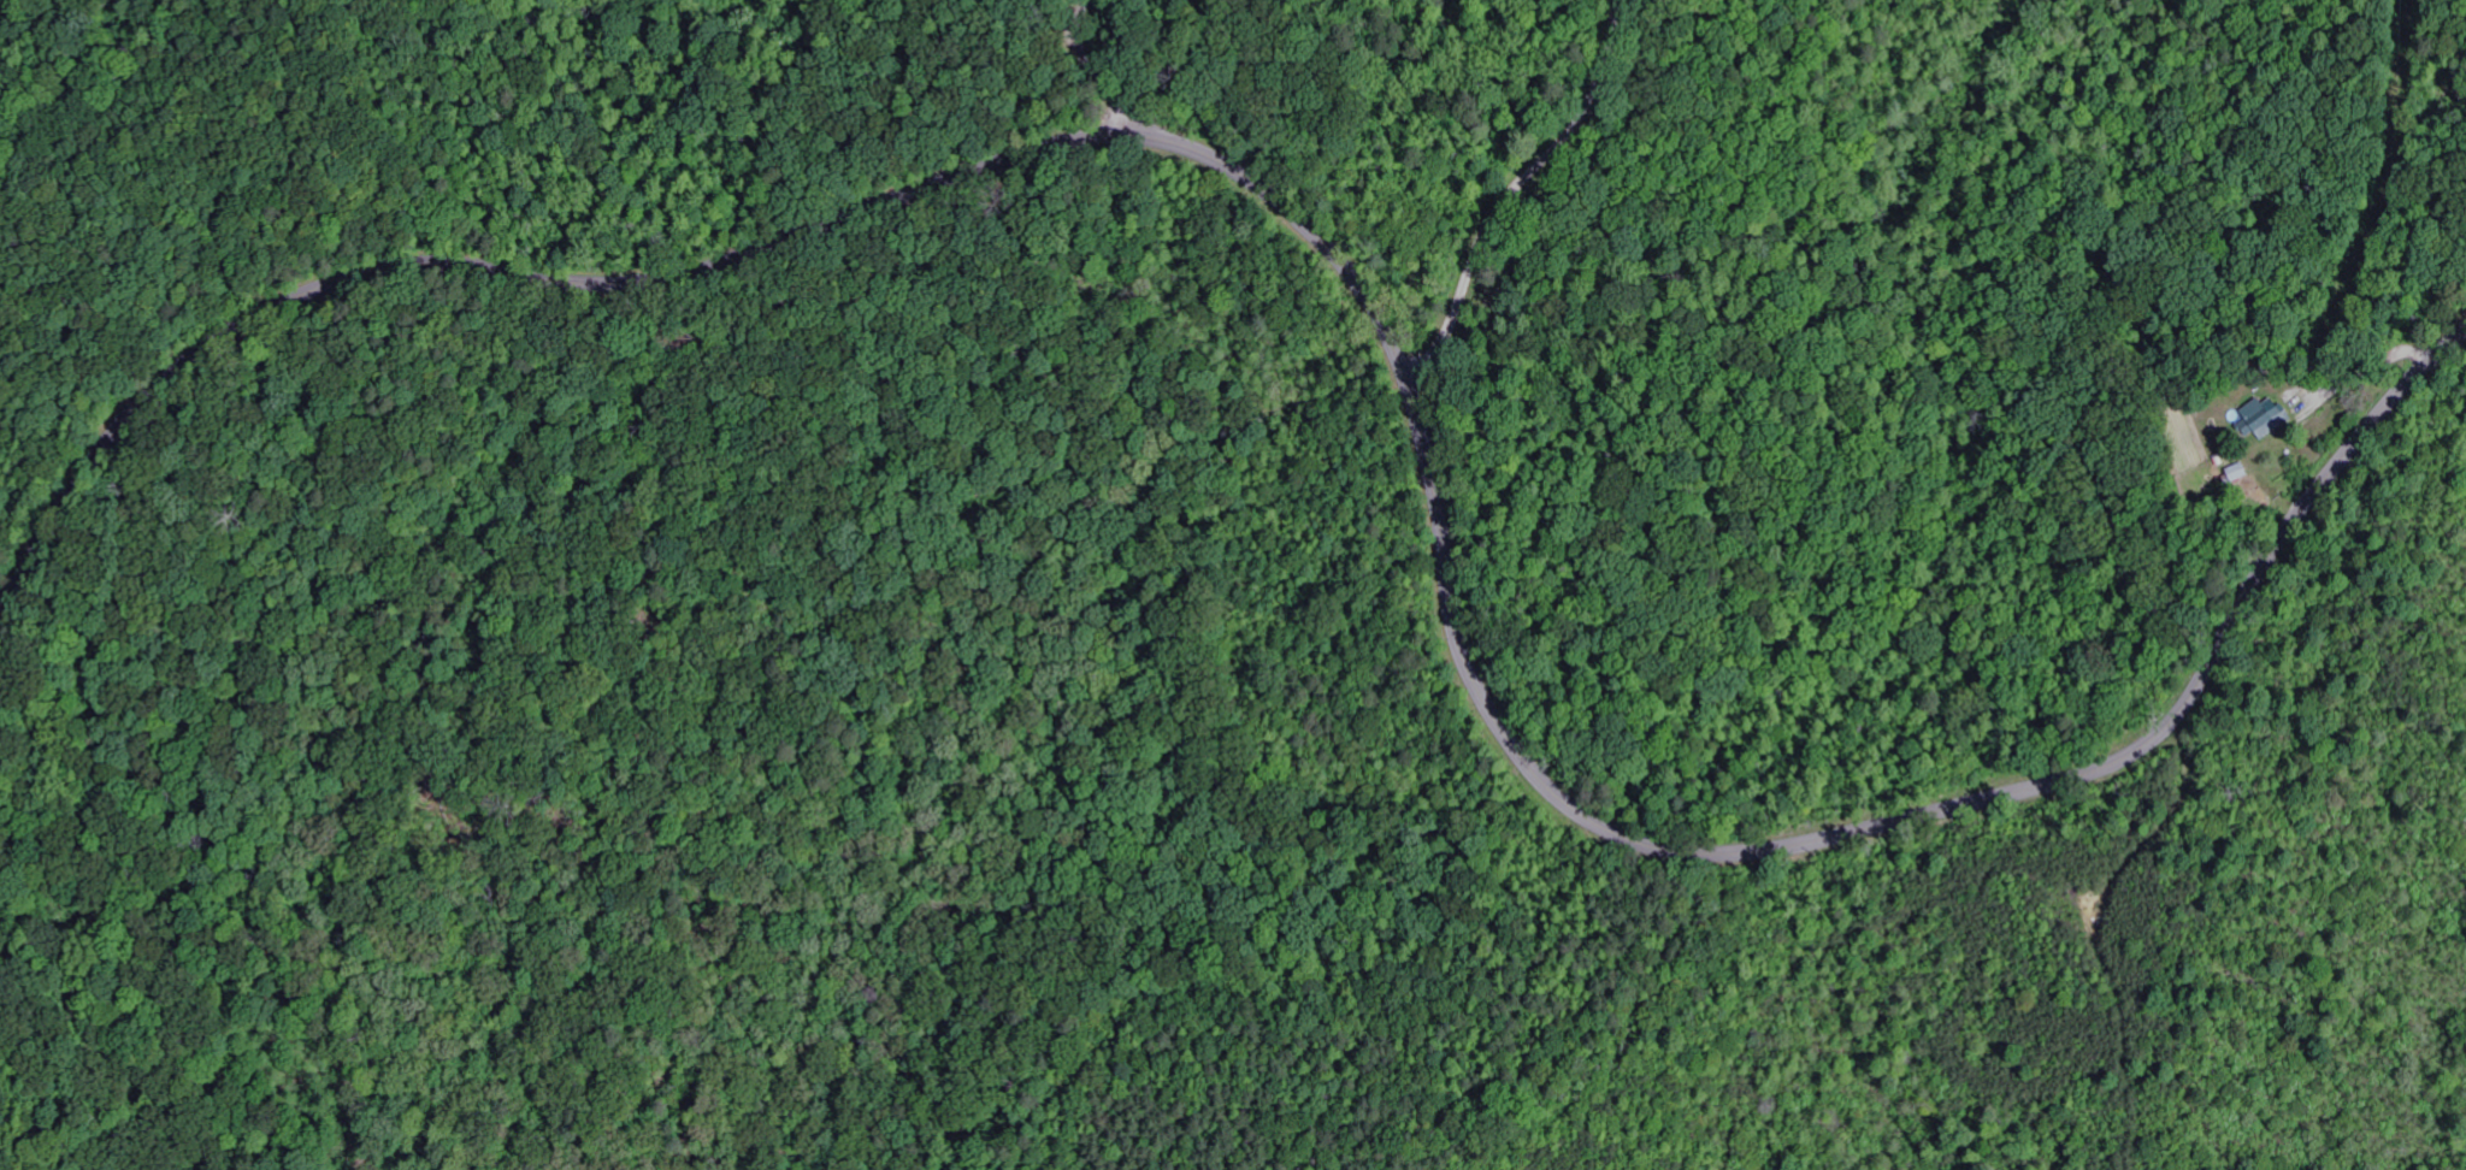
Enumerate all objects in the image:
road: (1098, 76)
road: (1516, 188)
road: (1380, 320)
building: (2264, 420)
building: (2243, 473)
road: (1937, 717)
road: (2101, 940)

